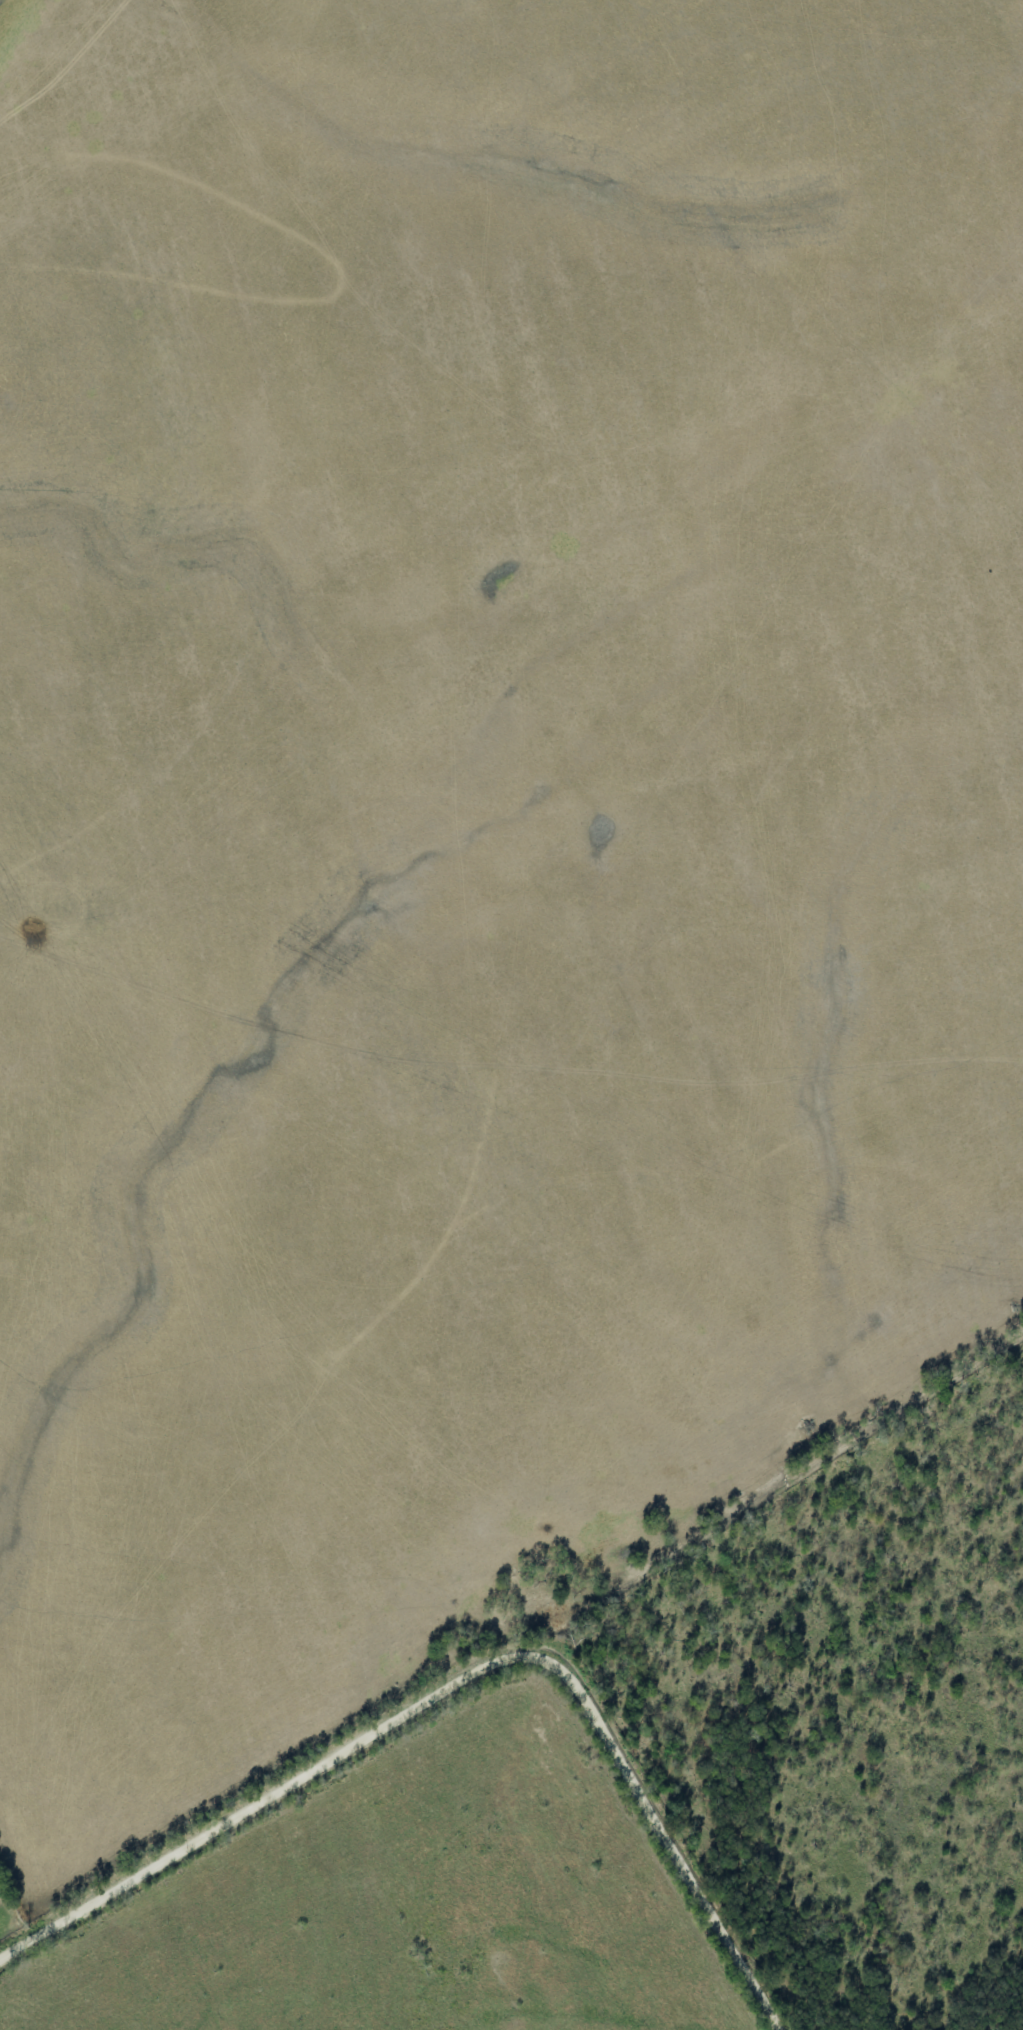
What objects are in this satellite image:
road: (459, 1685)

